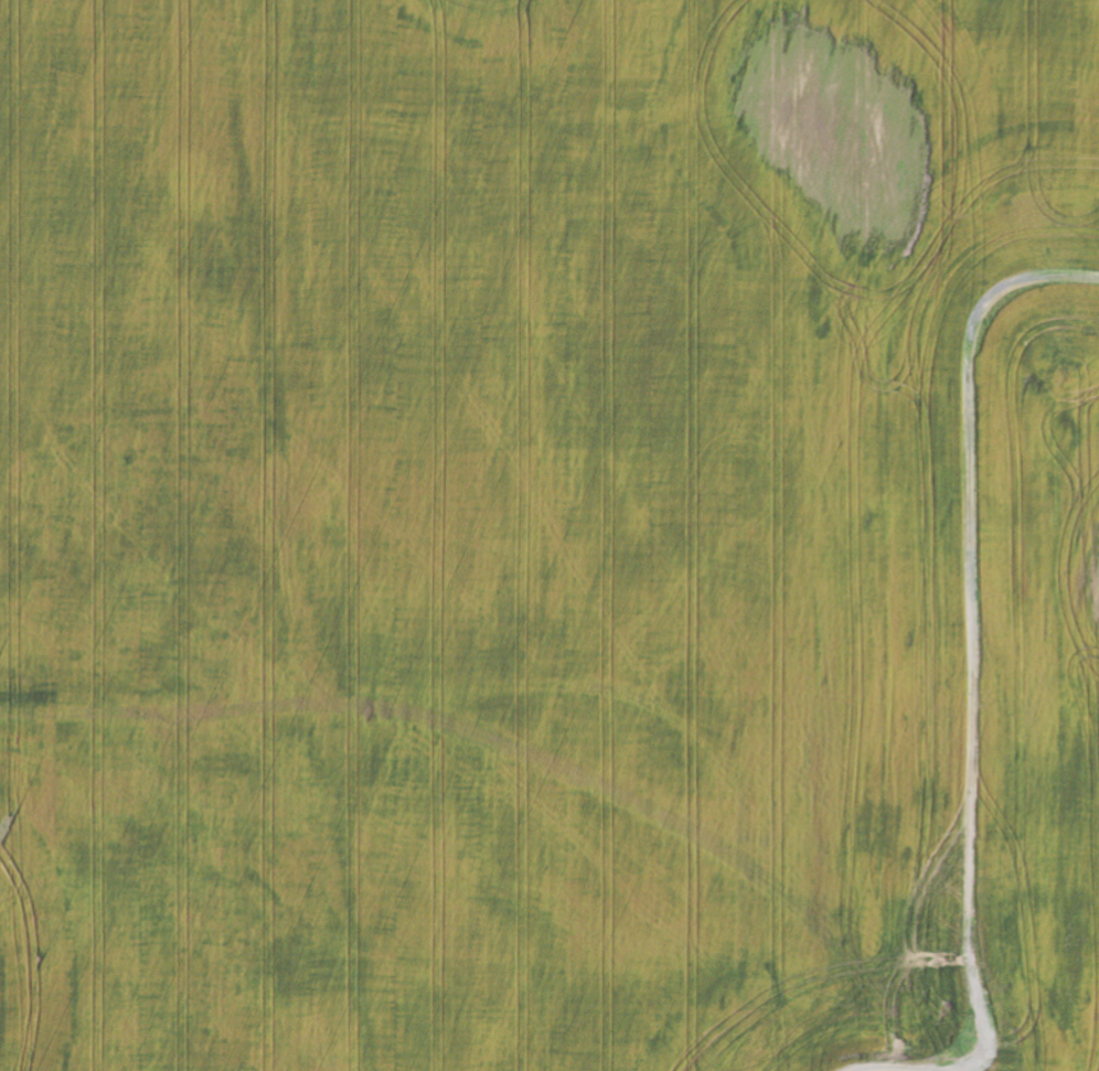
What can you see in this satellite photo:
road: (243, 770)

